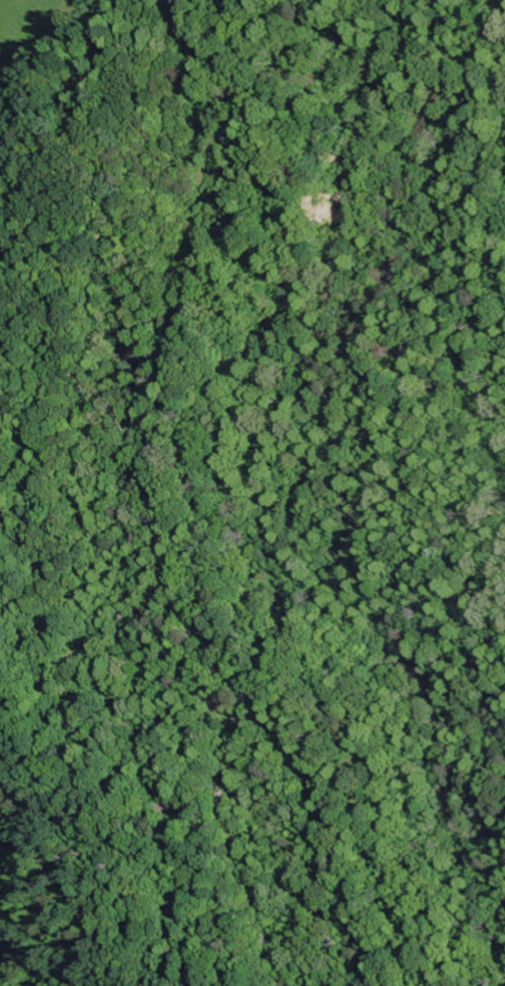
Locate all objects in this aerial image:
road: (220, 233)

